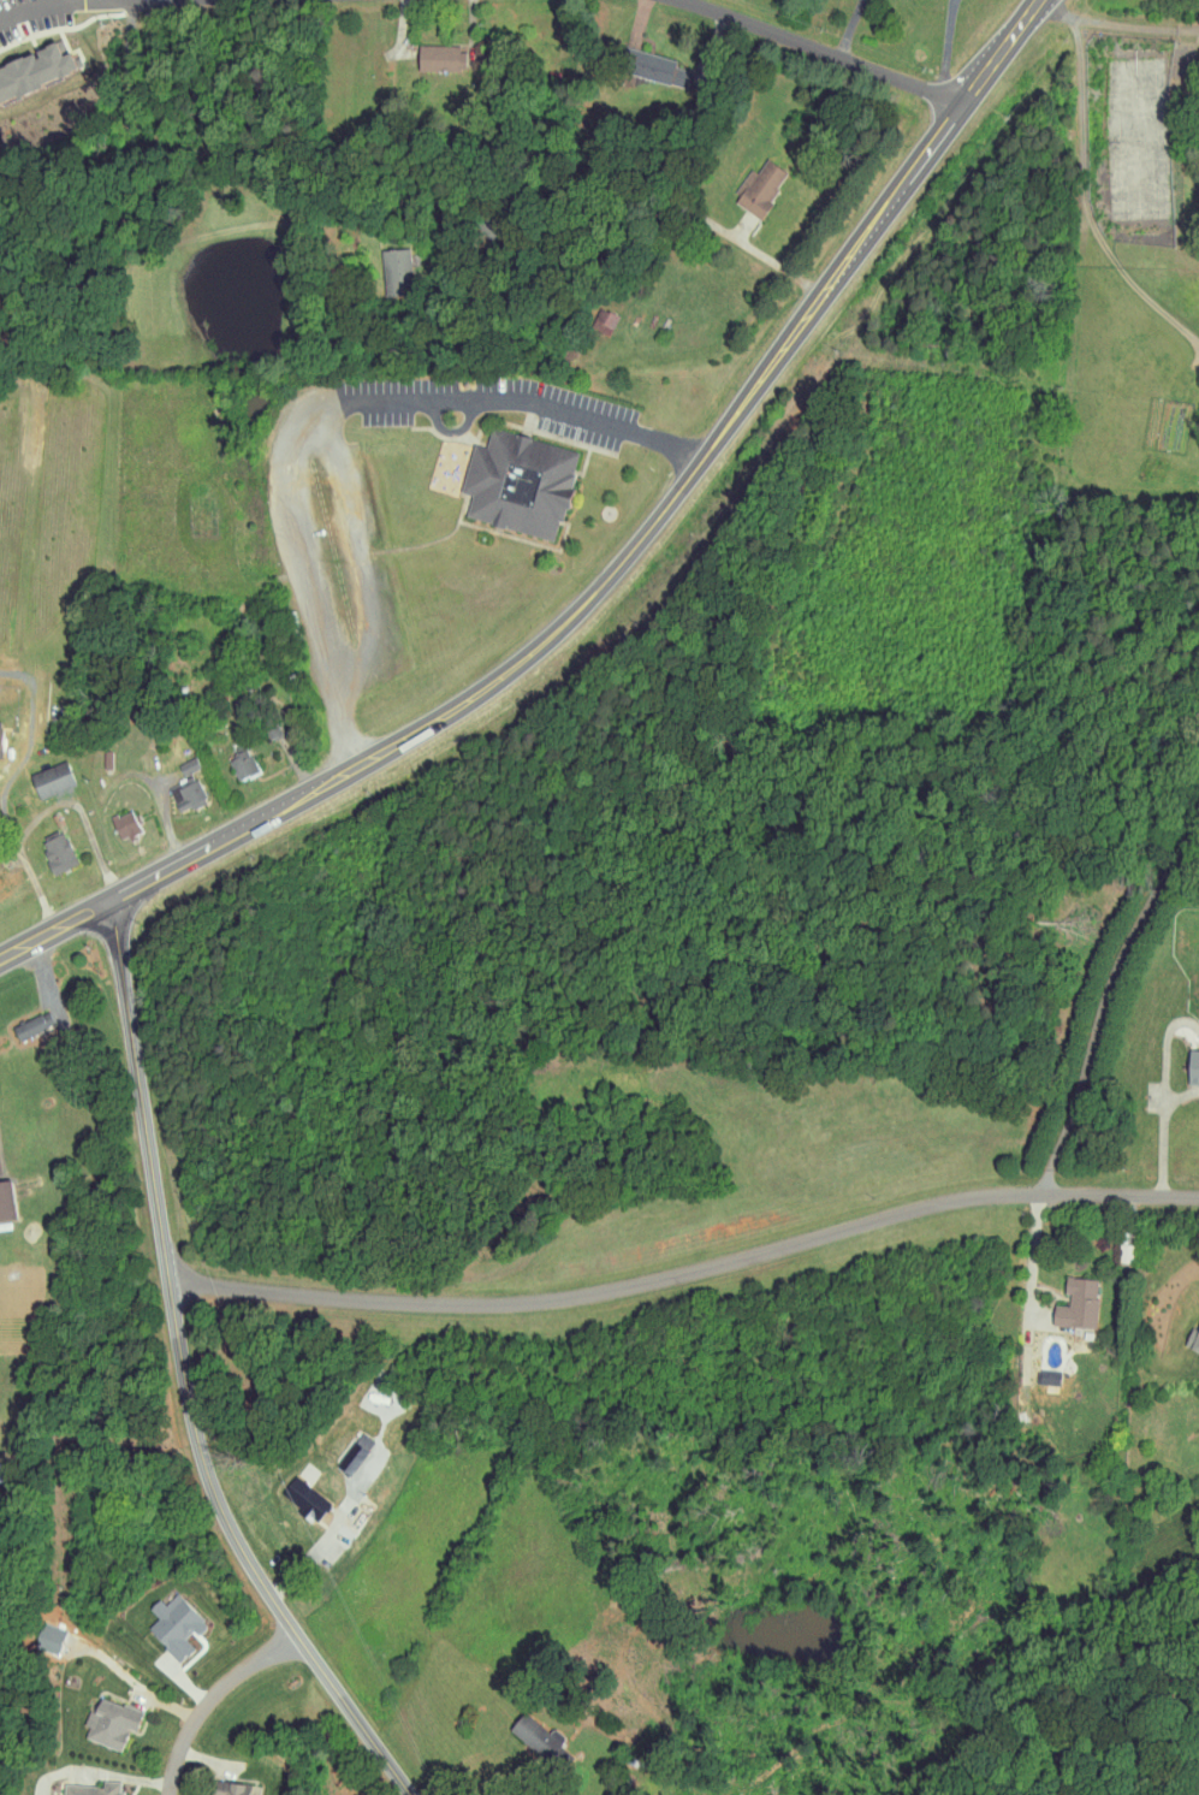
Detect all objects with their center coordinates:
road: (17, 4)
road: (1114, 18)
road: (851, 28)
road: (946, 46)
building: (432, 49)
road: (831, 51)
building: (32, 61)
building: (654, 61)
building: (742, 180)
road: (133, 194)
road: (1097, 194)
building: (390, 255)
road: (328, 408)
building: (512, 475)
road: (610, 579)
road: (24, 751)
building: (233, 757)
building: (179, 759)
building: (43, 771)
building: (180, 789)
road: (81, 810)
building: (124, 824)
road: (167, 824)
building: (57, 852)
road: (35, 883)
road: (49, 973)
road: (1106, 995)
building: (30, 1024)
building: (1185, 1062)
road: (1162, 1132)
building: (5, 1201)
road: (1034, 1262)
road: (687, 1272)
building: (1061, 1298)
building: (1187, 1333)
road: (182, 1376)
building: (351, 1458)
building: (304, 1499)
building: (174, 1625)
road: (210, 1699)
building: (108, 1724)
building: (93, 1789)
building: (227, 1789)

